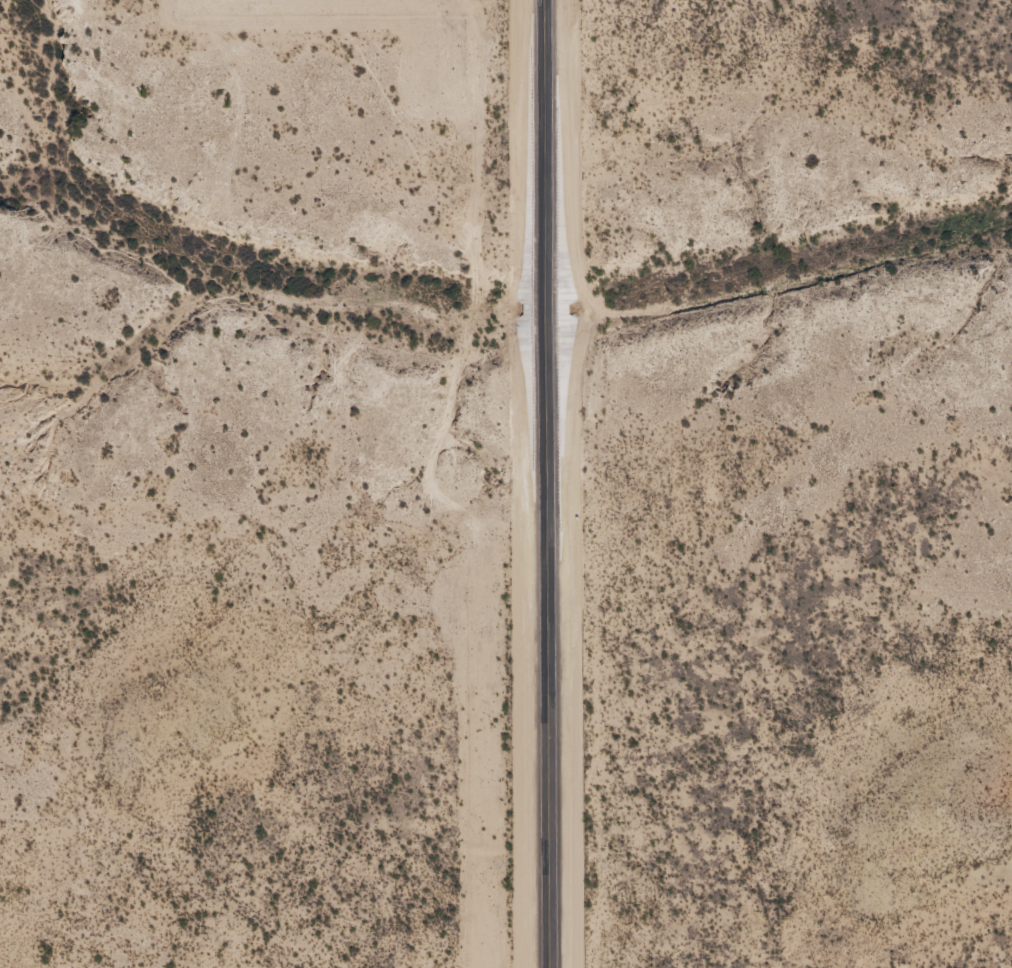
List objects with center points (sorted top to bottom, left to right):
road: (551, 484)

